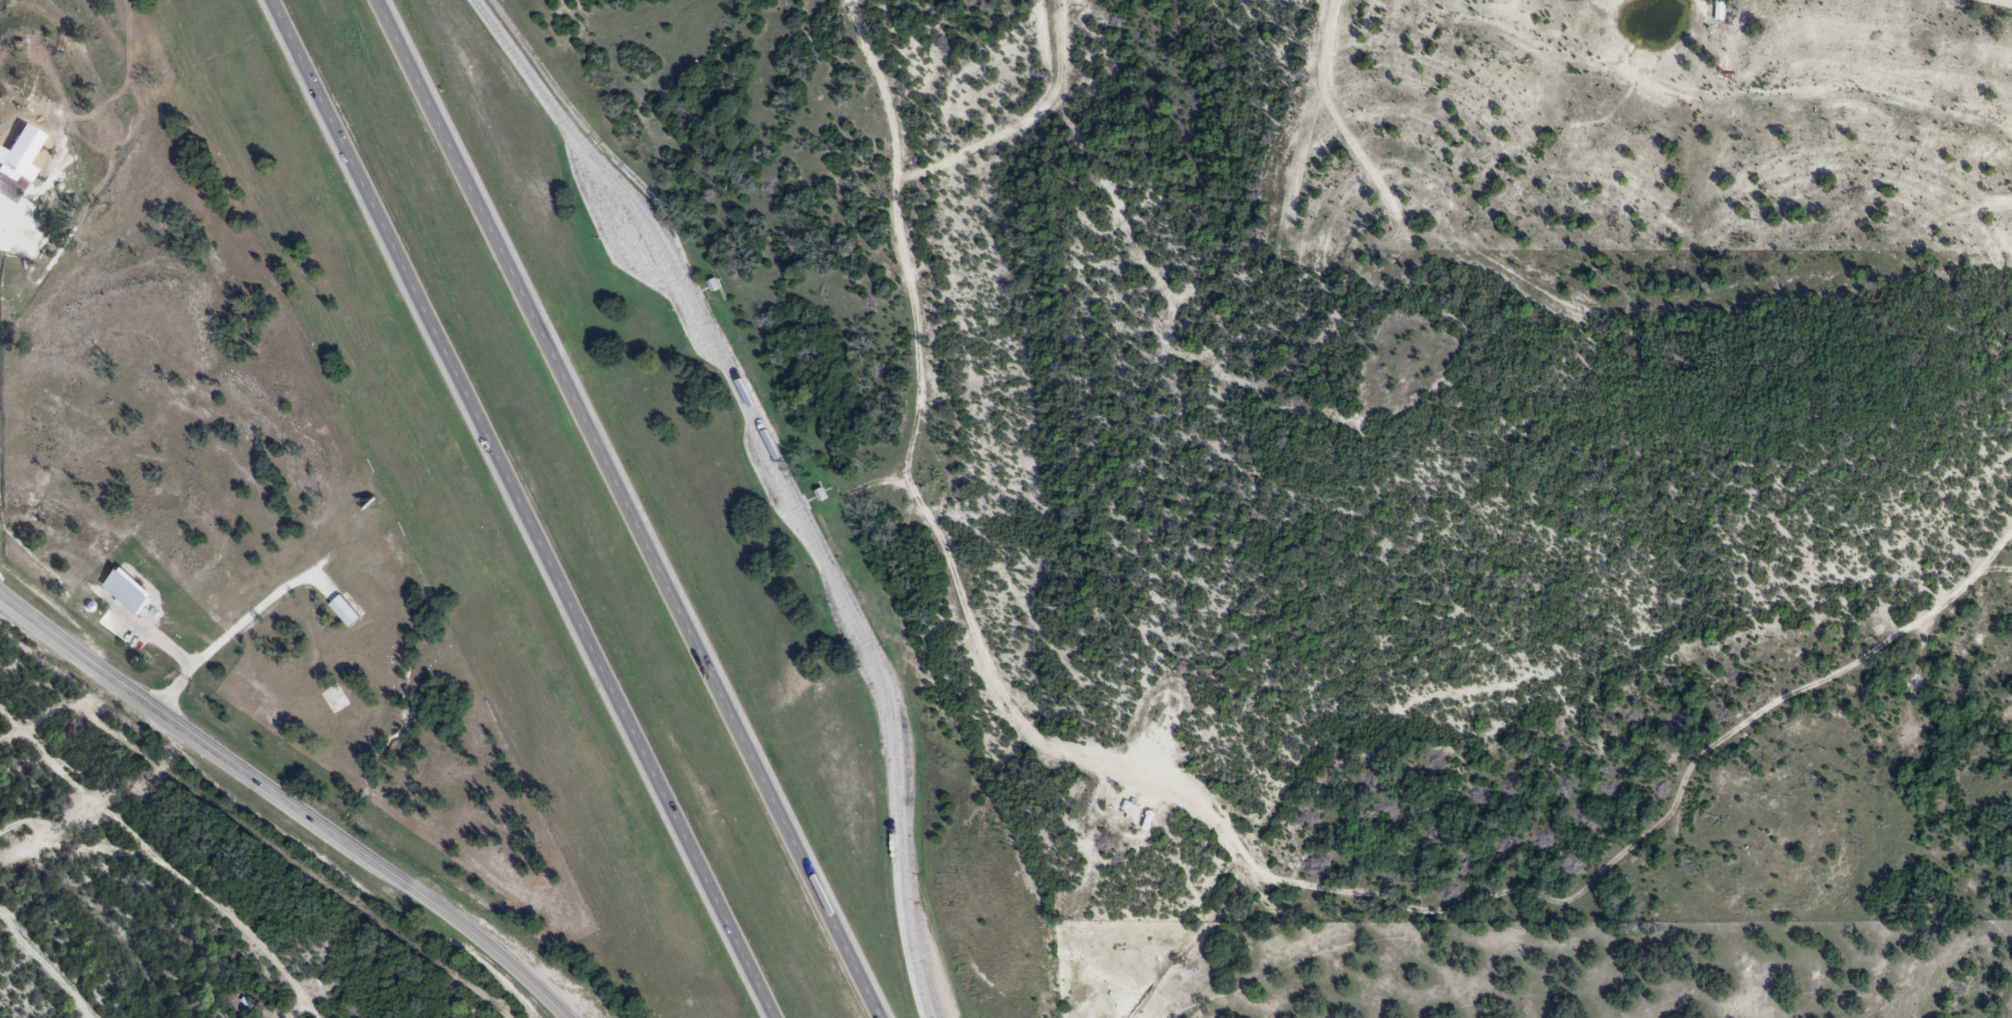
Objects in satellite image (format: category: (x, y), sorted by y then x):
road: (525, 70)
building: (711, 286)
road: (768, 457)
parking lot: (778, 484)
building: (819, 495)
road: (523, 509)
road: (631, 509)
building: (343, 614)
road: (230, 634)
road: (155, 639)
building: (332, 704)
road: (286, 800)
road: (908, 911)

